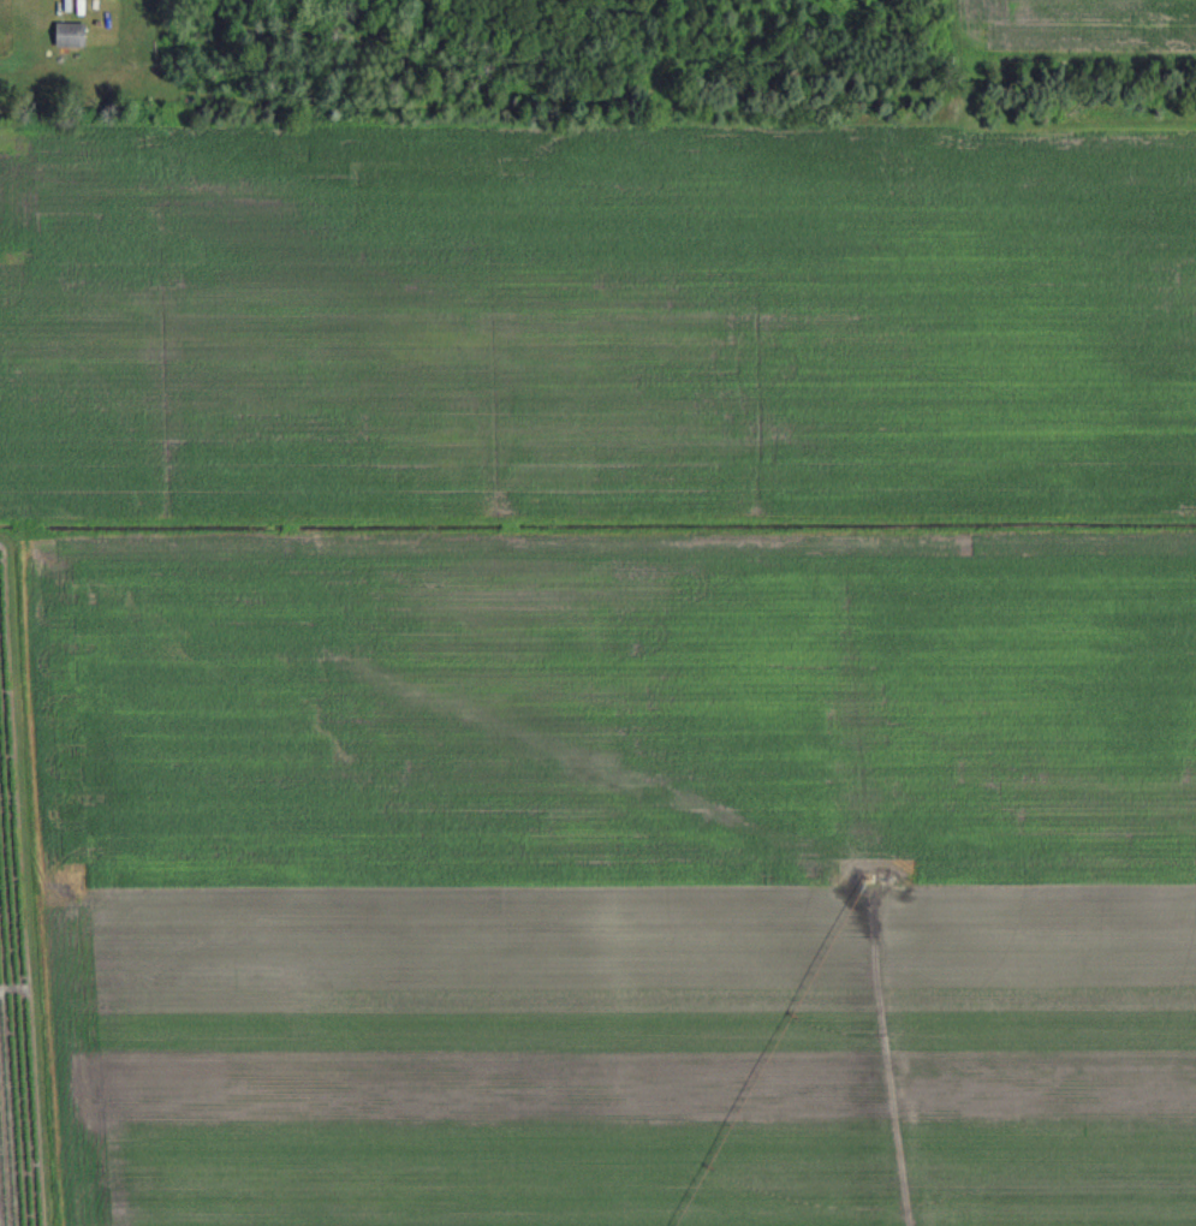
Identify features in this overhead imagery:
building: (64, 34)
road: (7, 67)

